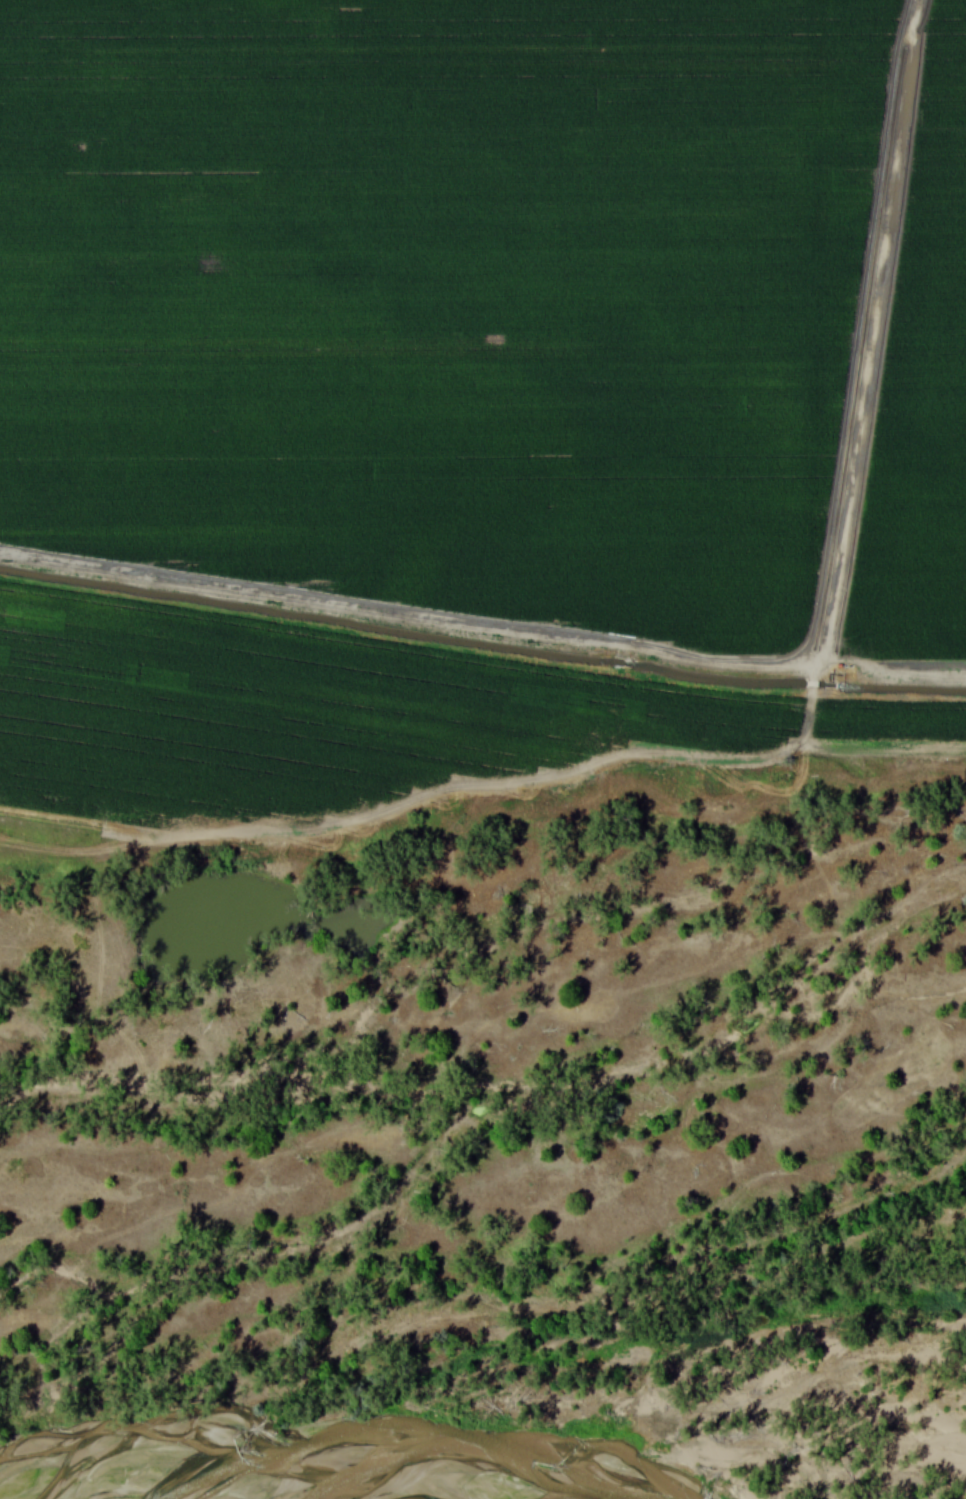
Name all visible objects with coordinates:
river: (321, 1466)

